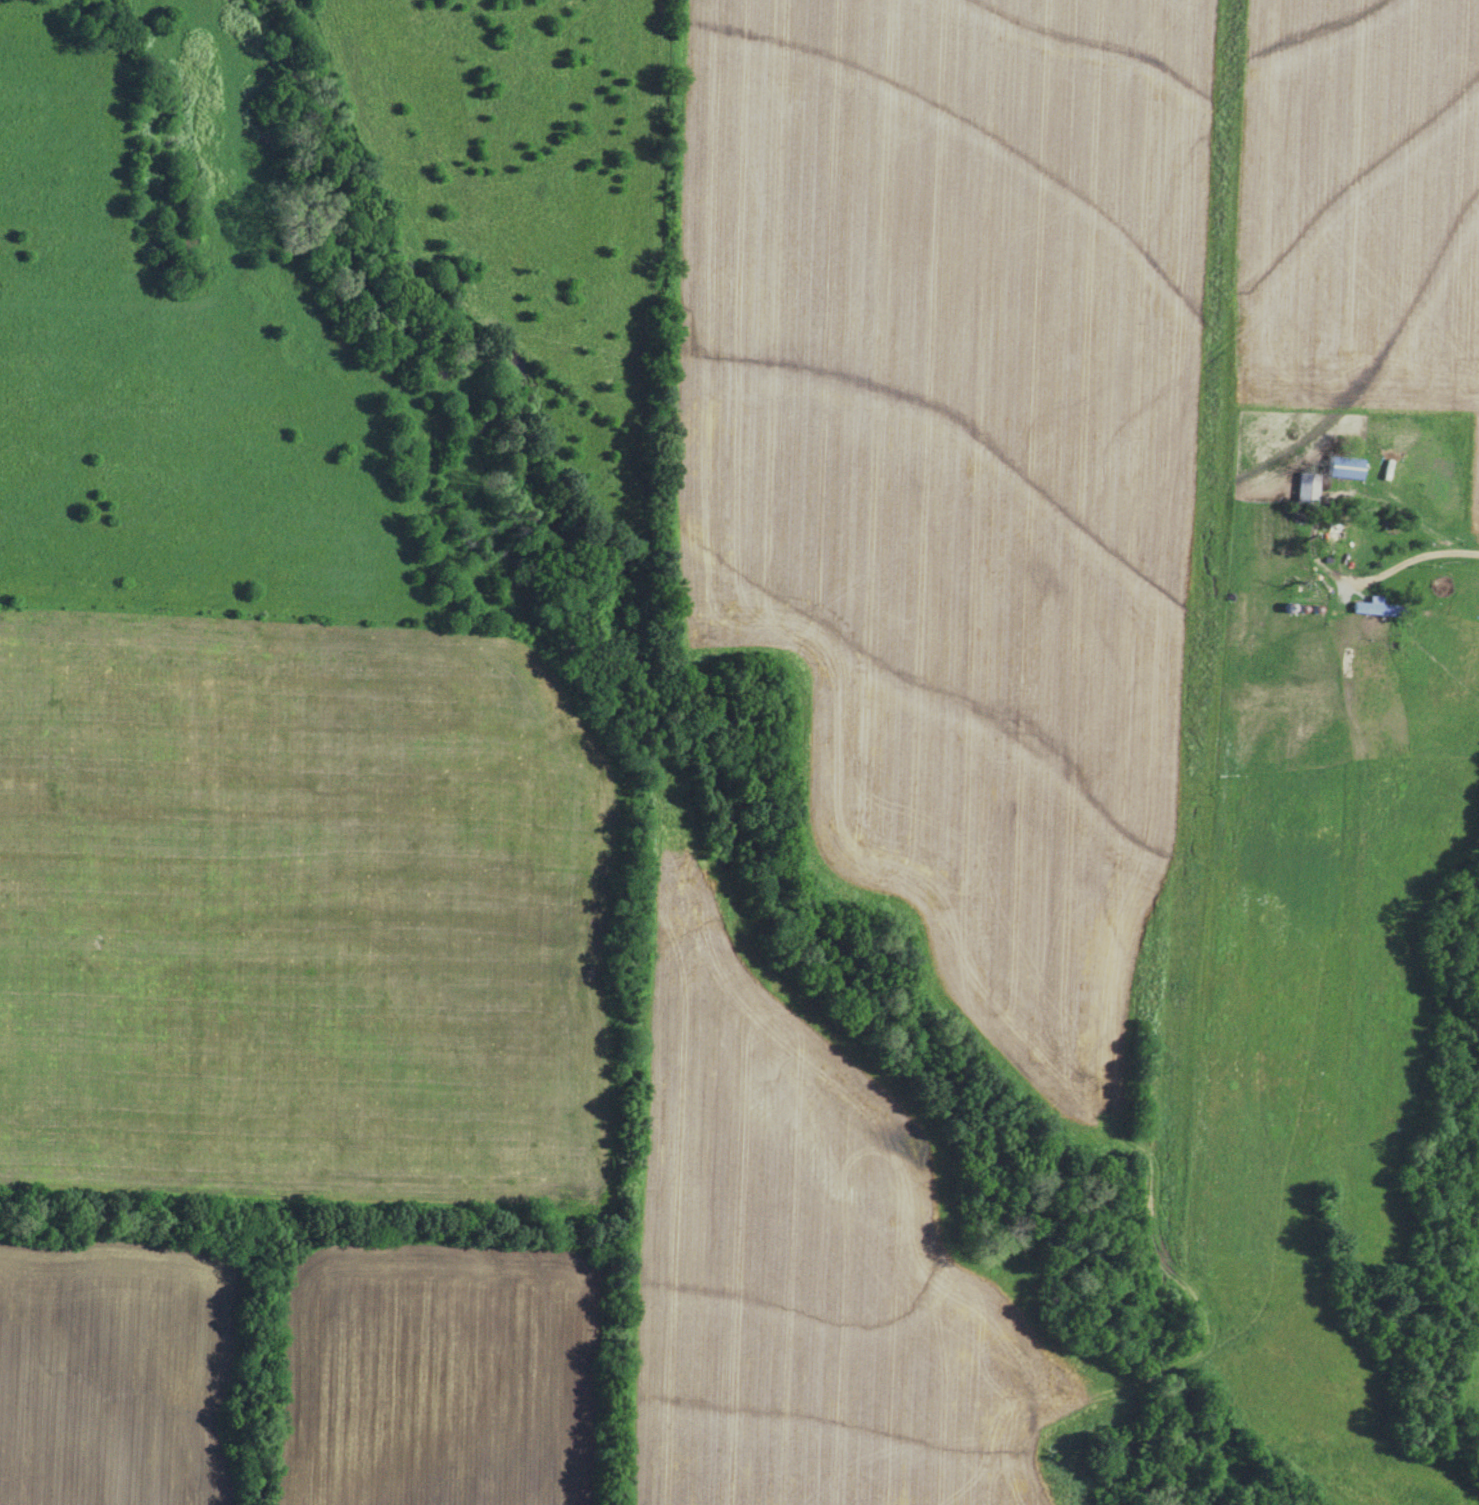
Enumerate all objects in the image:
building: (1308, 487)
road: (1403, 561)
building: (1375, 608)

